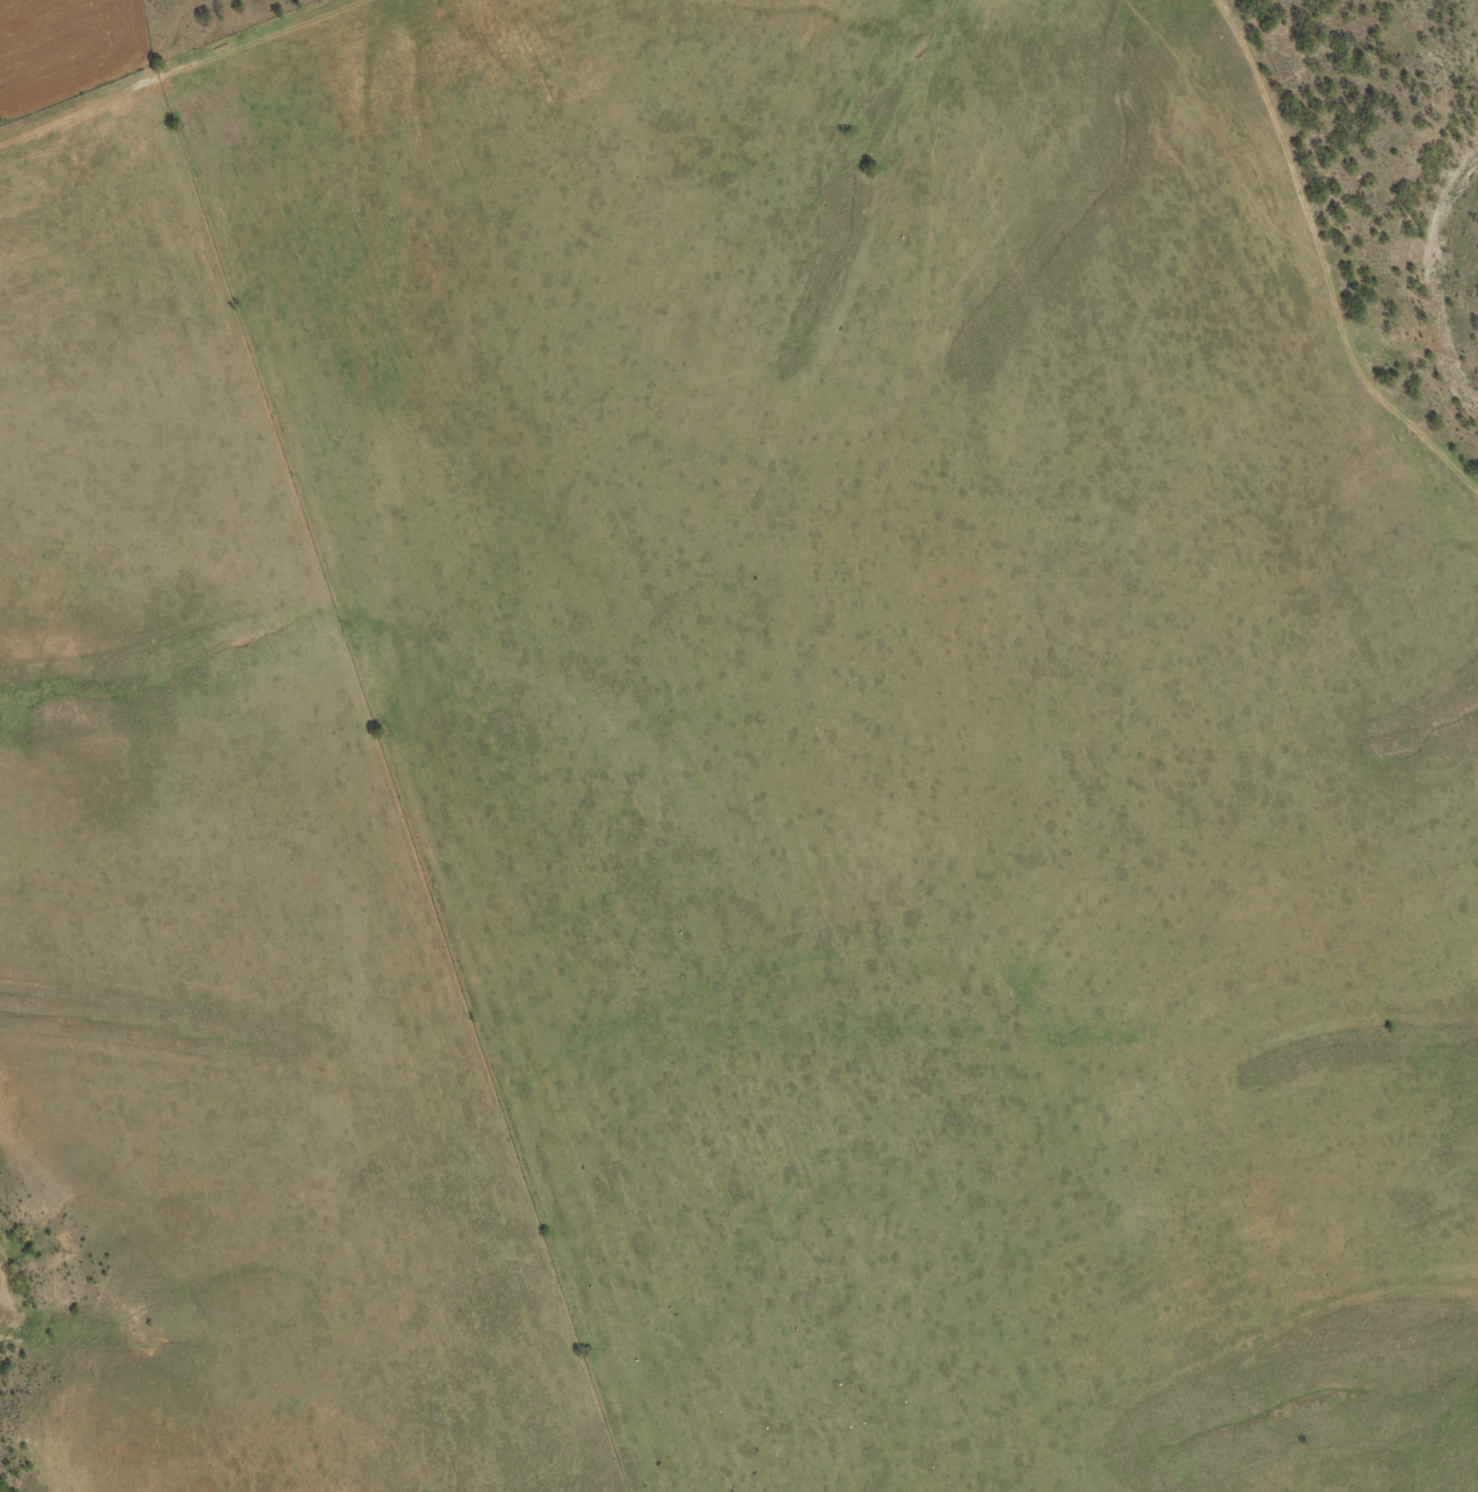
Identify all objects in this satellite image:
road: (158, 66)
road: (1326, 259)

